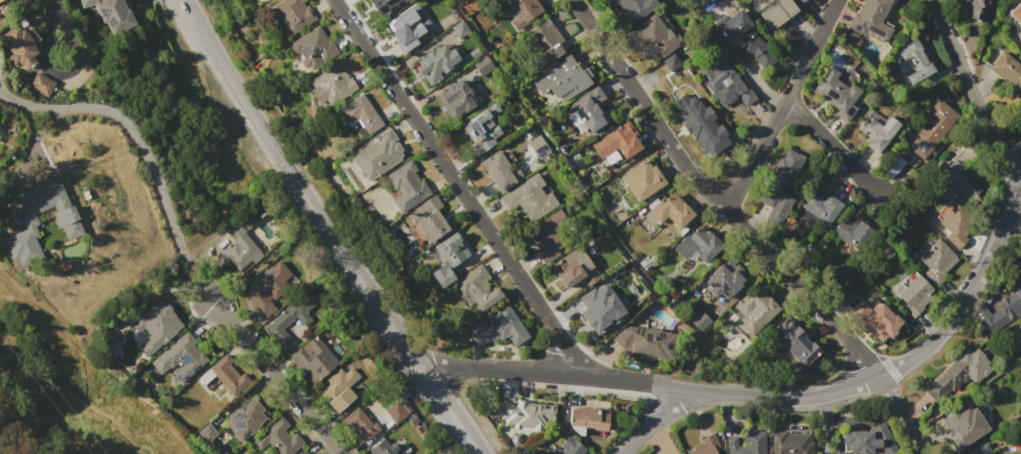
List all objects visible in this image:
building: (1, 0)
building: (797, 0)
building: (801, 1)
building: (384, 6)
building: (633, 8)
building: (977, 9)
building: (521, 10)
building: (776, 12)
building: (112, 14)
building: (293, 14)
building: (1017, 18)
building: (871, 19)
building: (409, 27)
building: (459, 29)
building: (652, 37)
building: (743, 39)
building: (21, 43)
building: (542, 43)
building: (313, 48)
building: (915, 59)
building: (436, 63)
building: (482, 65)
building: (1007, 70)
road: (62, 73)
building: (561, 80)
building: (41, 84)
building: (724, 84)
building: (331, 85)
building: (837, 94)
building: (456, 99)
road: (975, 102)
road: (782, 106)
building: (588, 111)
building: (360, 113)
building: (934, 127)
building: (482, 128)
building: (703, 128)
building: (877, 132)
building: (617, 141)
building: (538, 146)
road: (832, 146)
road: (142, 150)
building: (378, 154)
road: (280, 158)
building: (497, 170)
building: (957, 178)
building: (642, 179)
building: (780, 181)
building: (407, 186)
road: (456, 188)
building: (529, 198)
building: (821, 206)
building: (671, 211)
building: (65, 219)
building: (429, 219)
building: (954, 223)
road: (744, 230)
building: (851, 231)
building: (550, 235)
building: (241, 245)
building: (698, 245)
building: (448, 258)
building: (936, 261)
building: (574, 268)
building: (725, 280)
building: (268, 287)
building: (477, 287)
building: (914, 293)
building: (594, 306)
building: (755, 308)
building: (1000, 311)
building: (877, 318)
building: (289, 319)
building: (700, 321)
building: (157, 324)
building: (1019, 324)
building: (501, 326)
building: (795, 342)
building: (647, 343)
road: (403, 344)
building: (187, 357)
building: (313, 359)
building: (957, 373)
building: (228, 375)
road: (277, 375)
building: (338, 388)
road: (779, 396)
building: (395, 412)
road: (450, 413)
building: (525, 415)
building: (247, 419)
building: (587, 419)
road: (655, 422)
building: (359, 423)
road: (820, 424)
building: (965, 426)
building: (206, 432)
building: (278, 438)
building: (865, 441)
building: (747, 443)
building: (790, 443)
building: (706, 446)
building: (382, 447)
building: (565, 447)
building: (981, 449)
building: (304, 452)
building: (315, 452)
building: (399, 452)

